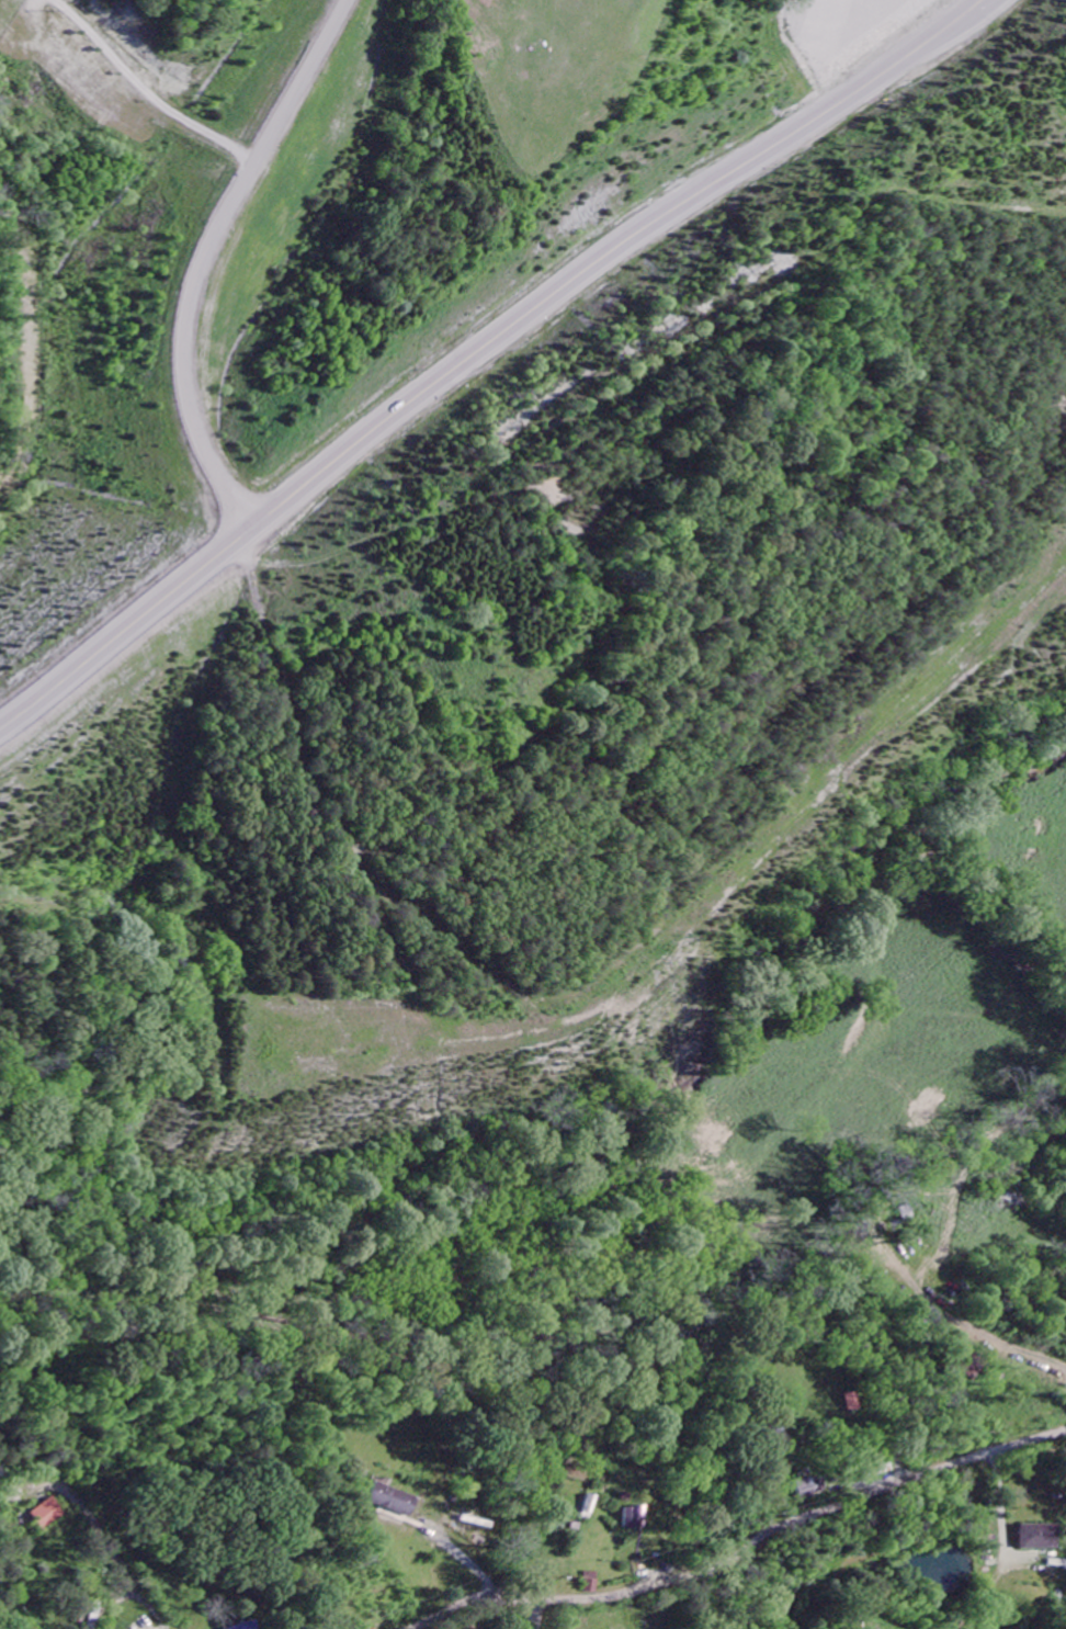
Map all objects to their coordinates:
road: (190, 257)
road: (498, 355)
building: (848, 1403)
building: (809, 1487)
building: (393, 1502)
building: (583, 1507)
building: (42, 1515)
building: (1036, 1538)
road: (744, 1550)
building: (588, 1584)
building: (243, 1626)

